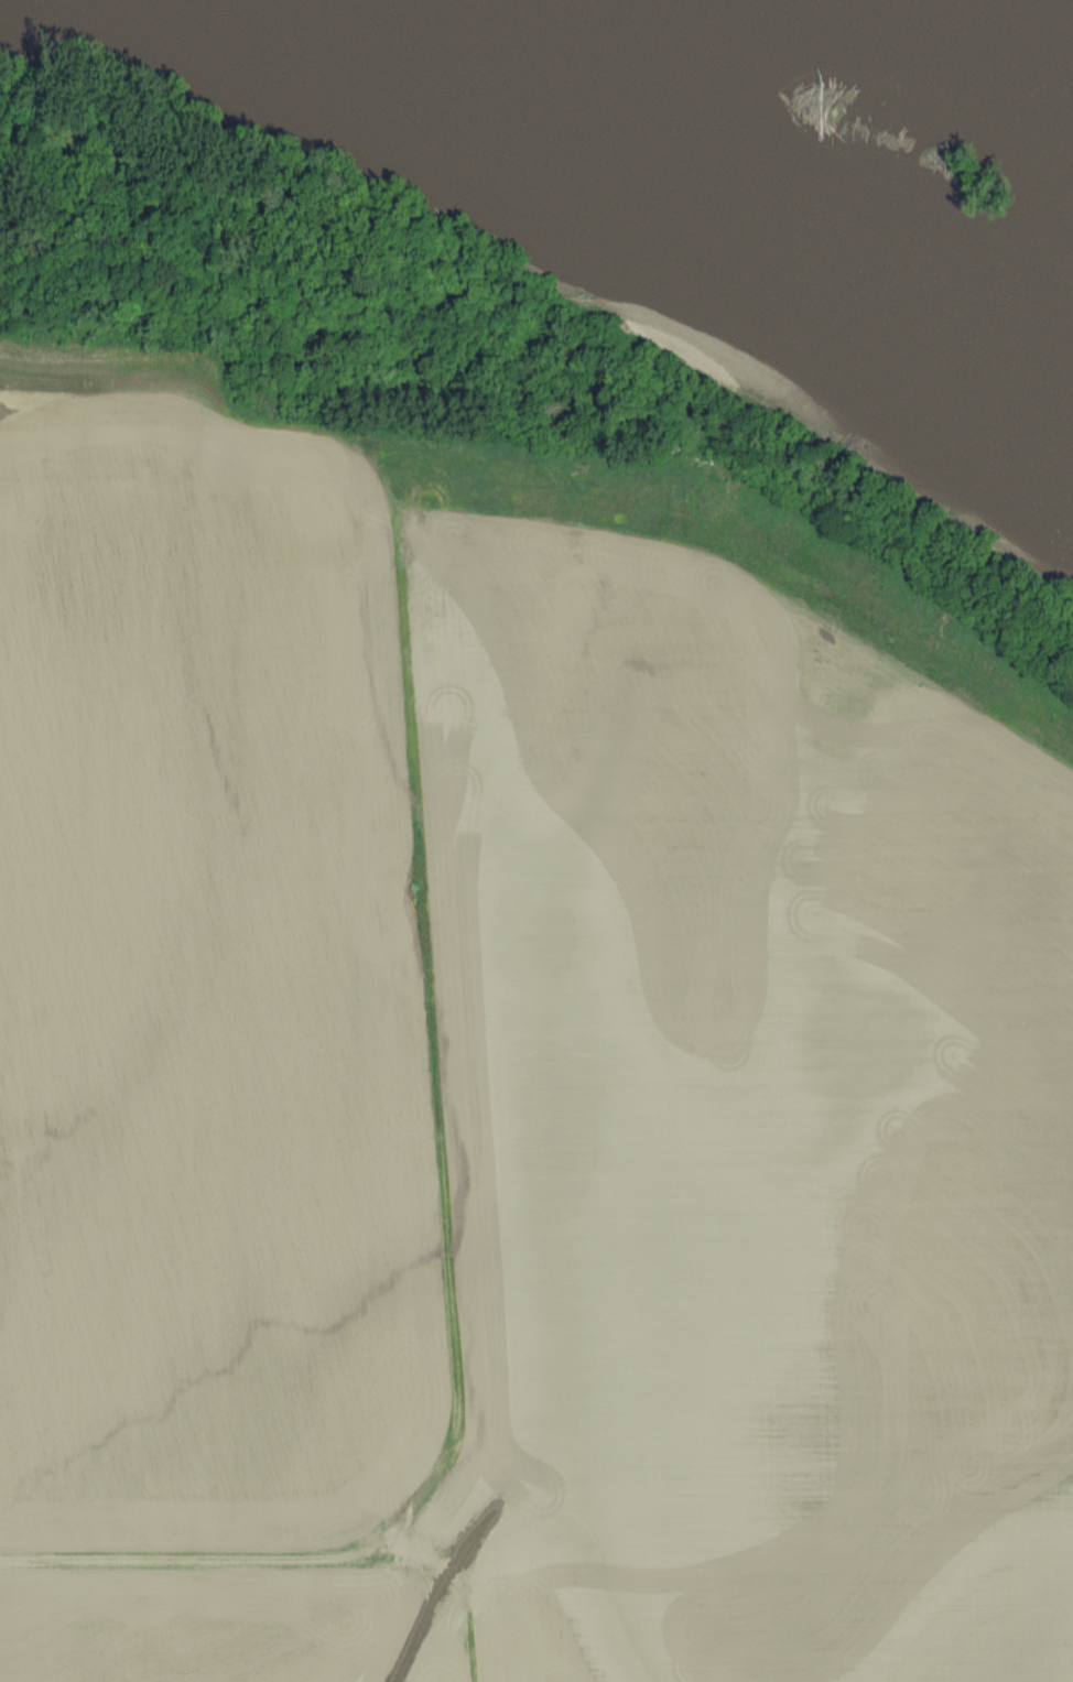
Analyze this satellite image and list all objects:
river: (1042, 20)

